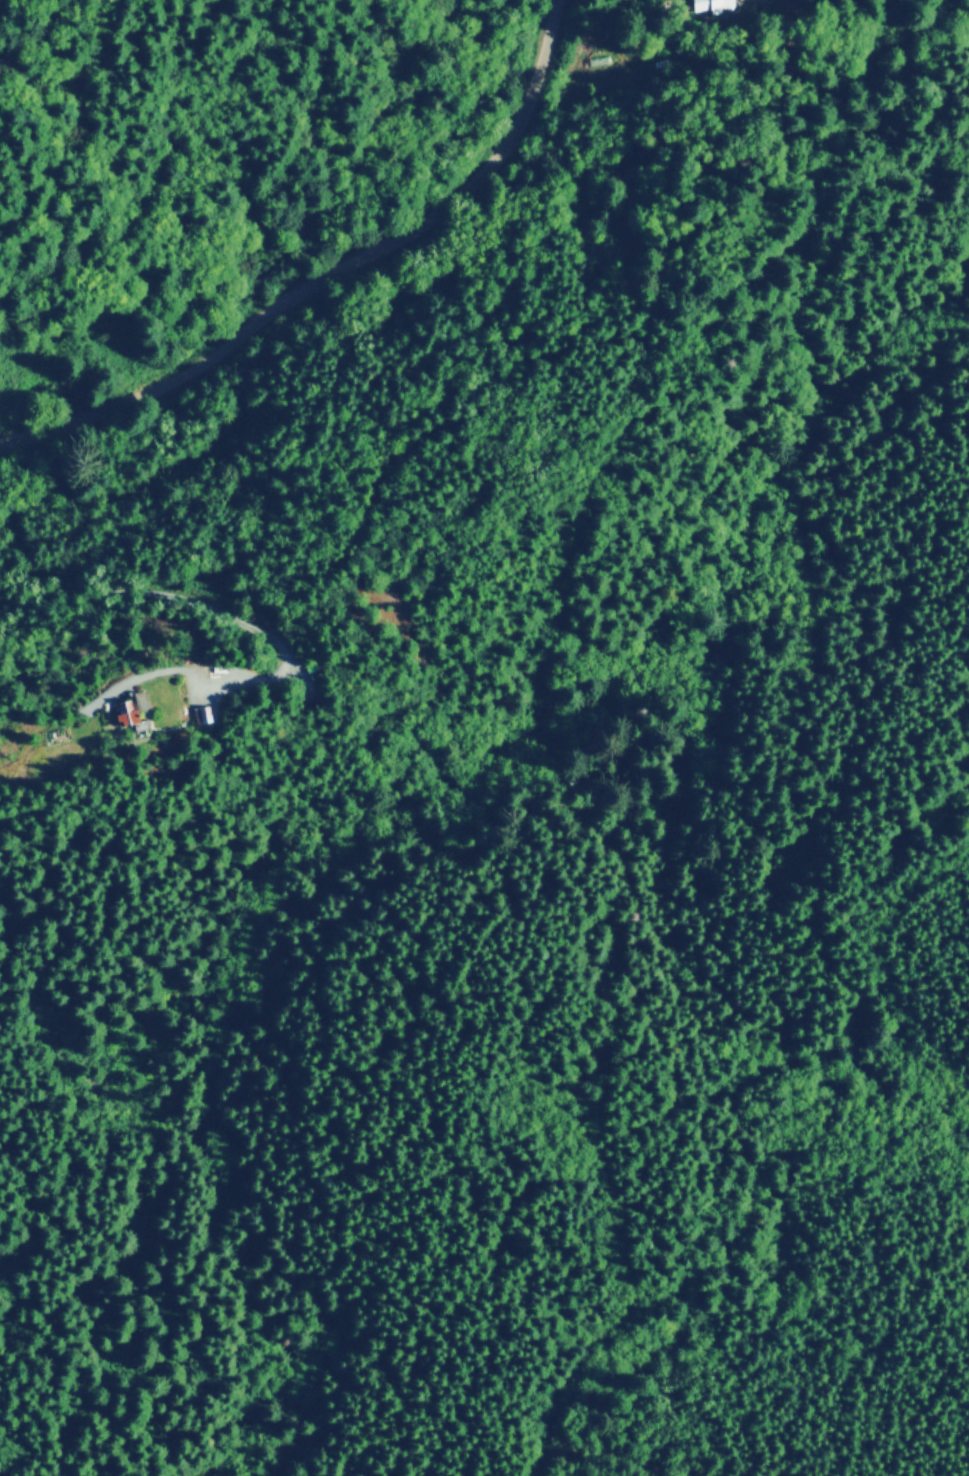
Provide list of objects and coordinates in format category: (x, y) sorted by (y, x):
building: (708, 3)
road: (329, 277)
building: (127, 711)
road: (786, 1197)
road: (602, 1457)

